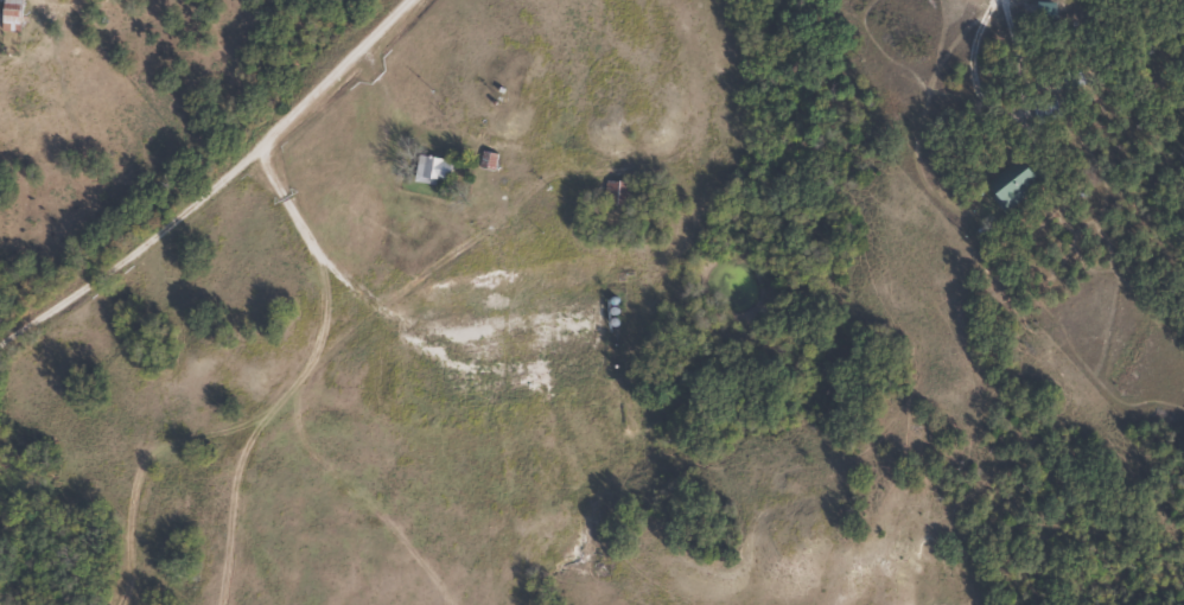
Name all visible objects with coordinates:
building: (9, 15)
road: (202, 159)
building: (429, 170)
building: (1005, 187)
building: (615, 193)

